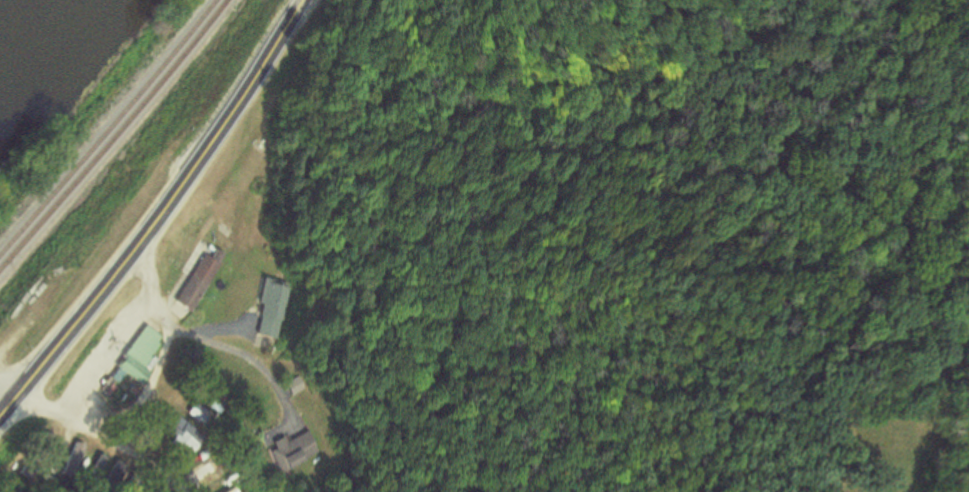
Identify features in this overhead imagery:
railway: (109, 125)
railway: (115, 134)
road: (161, 210)
park: (191, 237)
road: (123, 335)
road: (8, 387)
road: (110, 436)

